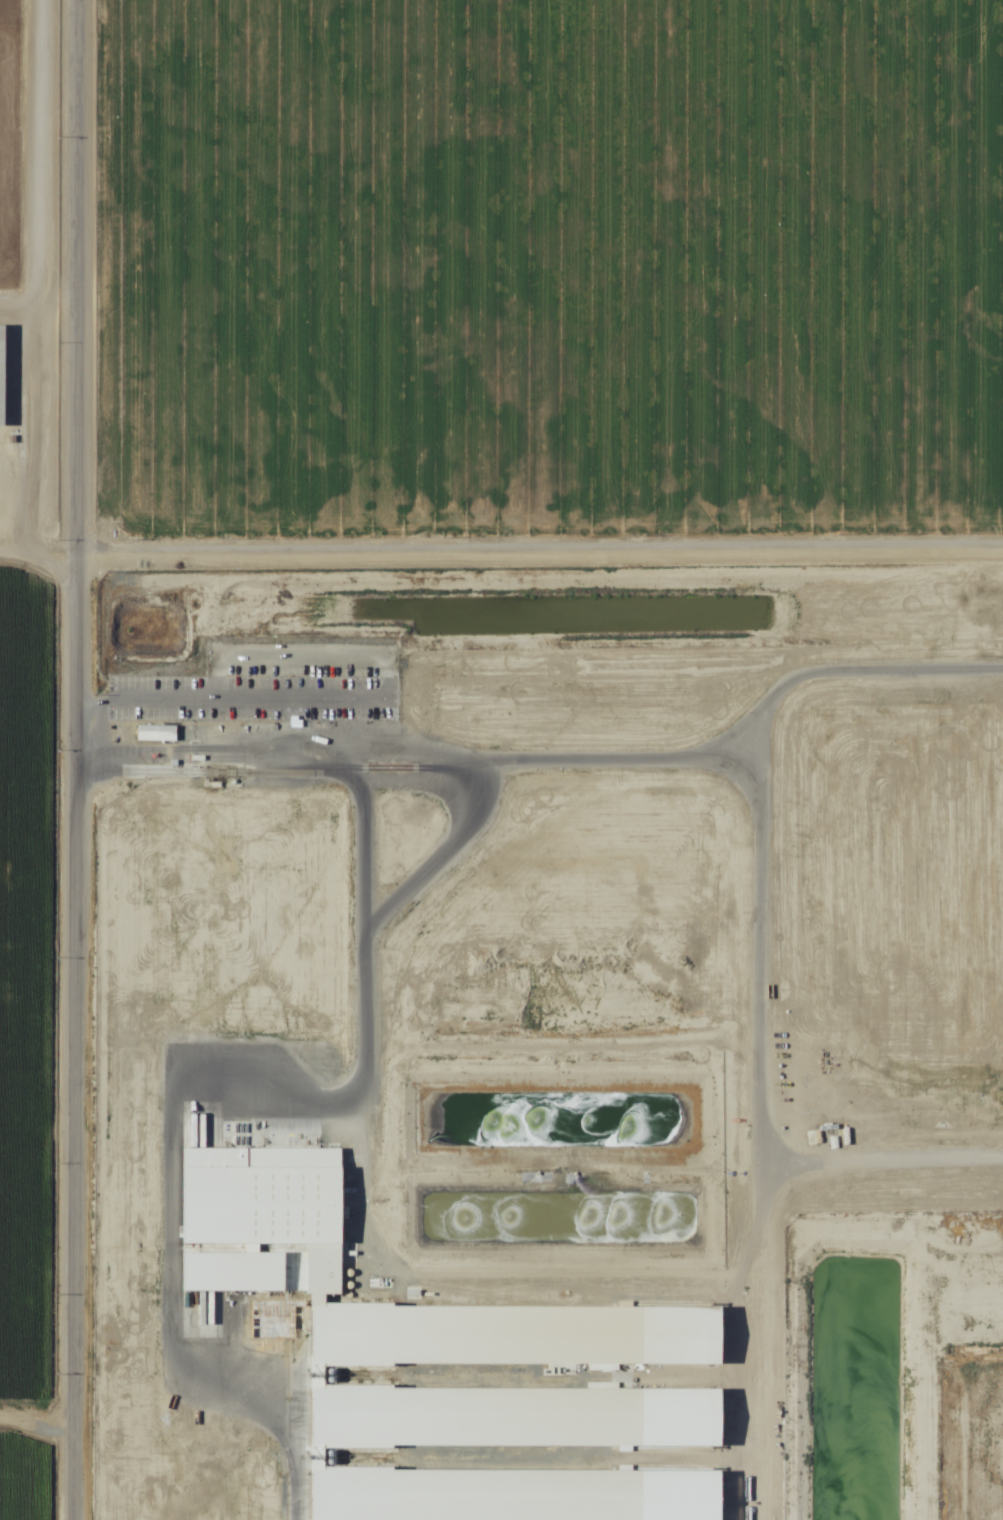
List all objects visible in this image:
building: (2, 377)
road: (498, 562)
road: (75, 760)
road: (36, 1450)

